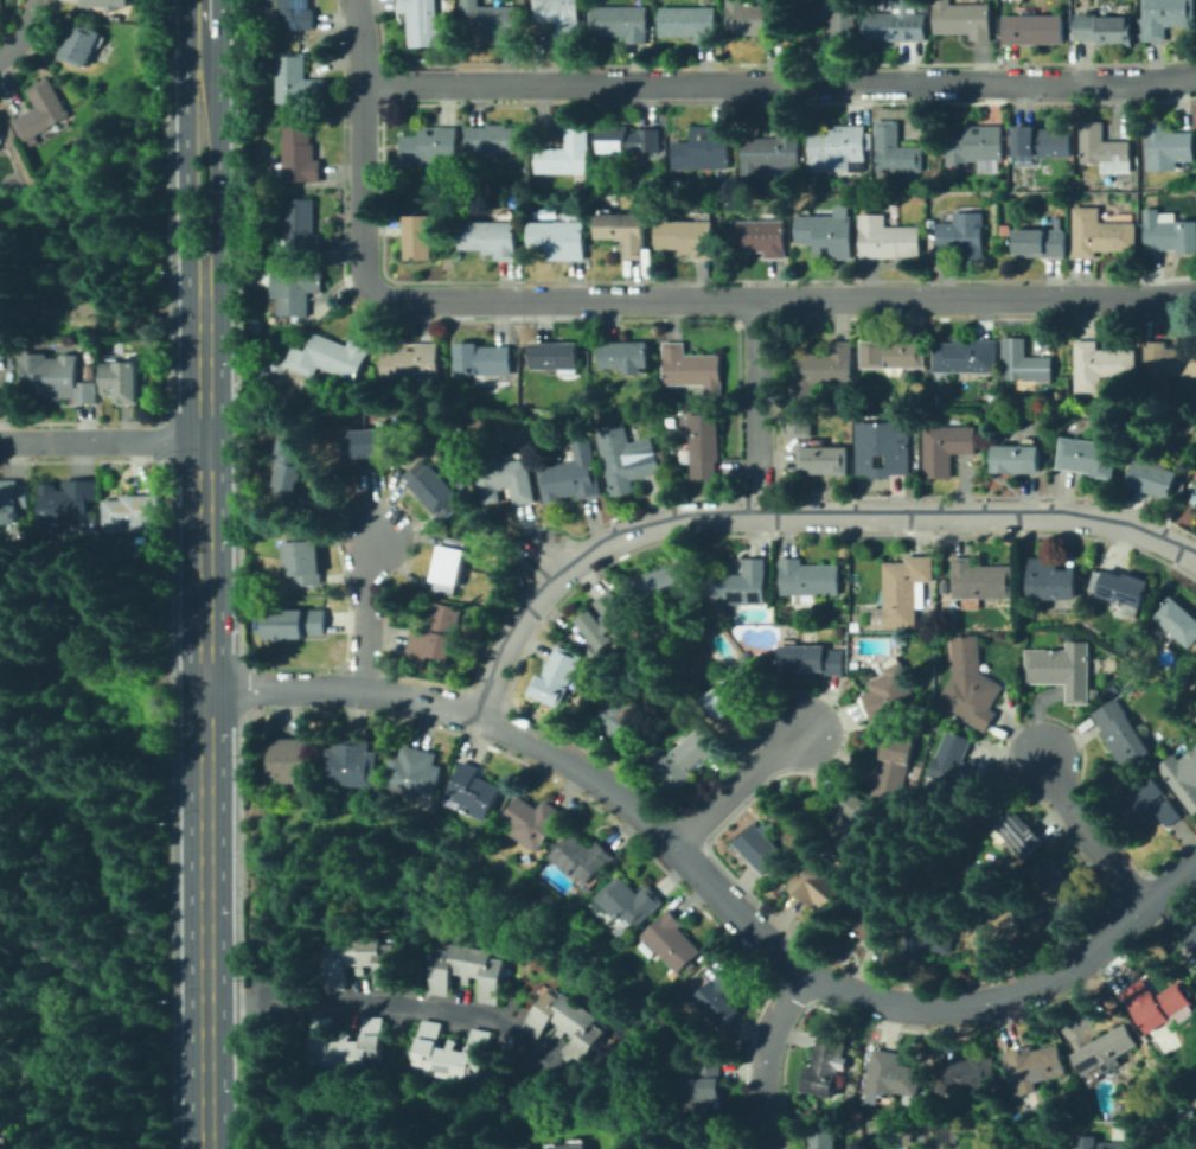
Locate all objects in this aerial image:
building: (105, 4)
road: (200, 14)
building: (295, 14)
building: (1165, 18)
building: (837, 19)
building: (561, 20)
building: (756, 20)
building: (964, 20)
building: (491, 21)
building: (621, 21)
building: (690, 23)
building: (424, 24)
building: (898, 24)
road: (21, 30)
building: (1034, 30)
building: (1105, 30)
building: (82, 45)
road: (202, 47)
building: (105, 49)
building: (299, 82)
road: (779, 83)
building: (41, 111)
building: (495, 140)
building: (627, 140)
building: (665, 140)
building: (1040, 142)
building: (431, 146)
building: (977, 147)
building: (1168, 147)
building: (839, 148)
building: (1105, 149)
building: (705, 151)
building: (896, 151)
building: (770, 152)
building: (569, 153)
building: (299, 154)
road: (218, 173)
building: (735, 173)
road: (186, 174)
building: (1192, 193)
building: (434, 196)
building: (920, 198)
building: (1005, 230)
building: (299, 231)
building: (625, 232)
building: (1169, 232)
building: (829, 234)
building: (1100, 234)
building: (964, 235)
building: (420, 237)
building: (687, 237)
building: (760, 237)
building: (491, 238)
building: (888, 238)
building: (559, 240)
building: (1042, 242)
building: (256, 267)
building: (9, 270)
building: (295, 291)
road: (637, 299)
building: (6, 318)
building: (251, 323)
building: (895, 355)
building: (626, 357)
building: (967, 357)
building: (331, 358)
building: (558, 358)
building: (484, 359)
building: (412, 362)
building: (1025, 363)
building: (1101, 364)
building: (1166, 365)
building: (825, 368)
building: (692, 369)
building: (59, 378)
building: (123, 381)
building: (257, 388)
building: (383, 400)
building: (596, 400)
building: (455, 402)
building: (584, 403)
road: (756, 407)
building: (798, 425)
road: (102, 443)
building: (704, 445)
building: (369, 448)
building: (884, 448)
building: (946, 448)
building: (1089, 458)
building: (628, 459)
building: (1016, 459)
building: (825, 460)
building: (288, 474)
building: (574, 475)
building: (1155, 477)
building: (509, 480)
building: (1191, 487)
building: (435, 489)
building: (1194, 499)
building: (13, 500)
building: (70, 504)
building: (134, 511)
road: (793, 516)
building: (143, 542)
building: (306, 557)
building: (450, 566)
building: (808, 580)
building: (1051, 581)
building: (980, 582)
building: (845, 583)
building: (664, 586)
building: (740, 586)
building: (1121, 589)
building: (904, 592)
building: (1079, 608)
road: (369, 612)
building: (608, 621)
building: (1178, 621)
building: (296, 624)
building: (856, 626)
building: (927, 626)
building: (437, 633)
building: (576, 634)
building: (844, 638)
building: (812, 659)
building: (856, 666)
building: (1062, 670)
building: (1195, 672)
building: (558, 677)
building: (971, 684)
building: (1114, 690)
building: (733, 694)
building: (1095, 694)
building: (893, 695)
building: (930, 708)
road: (205, 716)
building: (622, 716)
building: (1121, 733)
building: (684, 759)
building: (289, 760)
building: (352, 764)
building: (957, 765)
building: (895, 770)
building: (415, 773)
building: (1182, 777)
road: (736, 787)
building: (474, 792)
building: (1150, 804)
building: (535, 822)
building: (855, 823)
building: (484, 834)
building: (1017, 834)
road: (1089, 835)
building: (761, 849)
building: (526, 858)
building: (583, 858)
building: (1059, 885)
road: (712, 887)
building: (818, 887)
building: (629, 904)
building: (1047, 915)
building: (872, 926)
building: (994, 930)
building: (1191, 938)
building: (929, 940)
building: (674, 941)
building: (360, 960)
building: (468, 971)
building: (722, 992)
road: (395, 1002)
building: (1156, 1004)
building: (567, 1024)
road: (769, 1043)
building: (350, 1045)
building: (1106, 1051)
building: (454, 1053)
building: (826, 1066)
building: (1035, 1067)
building: (966, 1074)
building: (893, 1075)
building: (703, 1087)
road: (766, 1135)
building: (823, 1138)
building: (1098, 1143)
building: (574, 1147)
building: (526, 1148)

